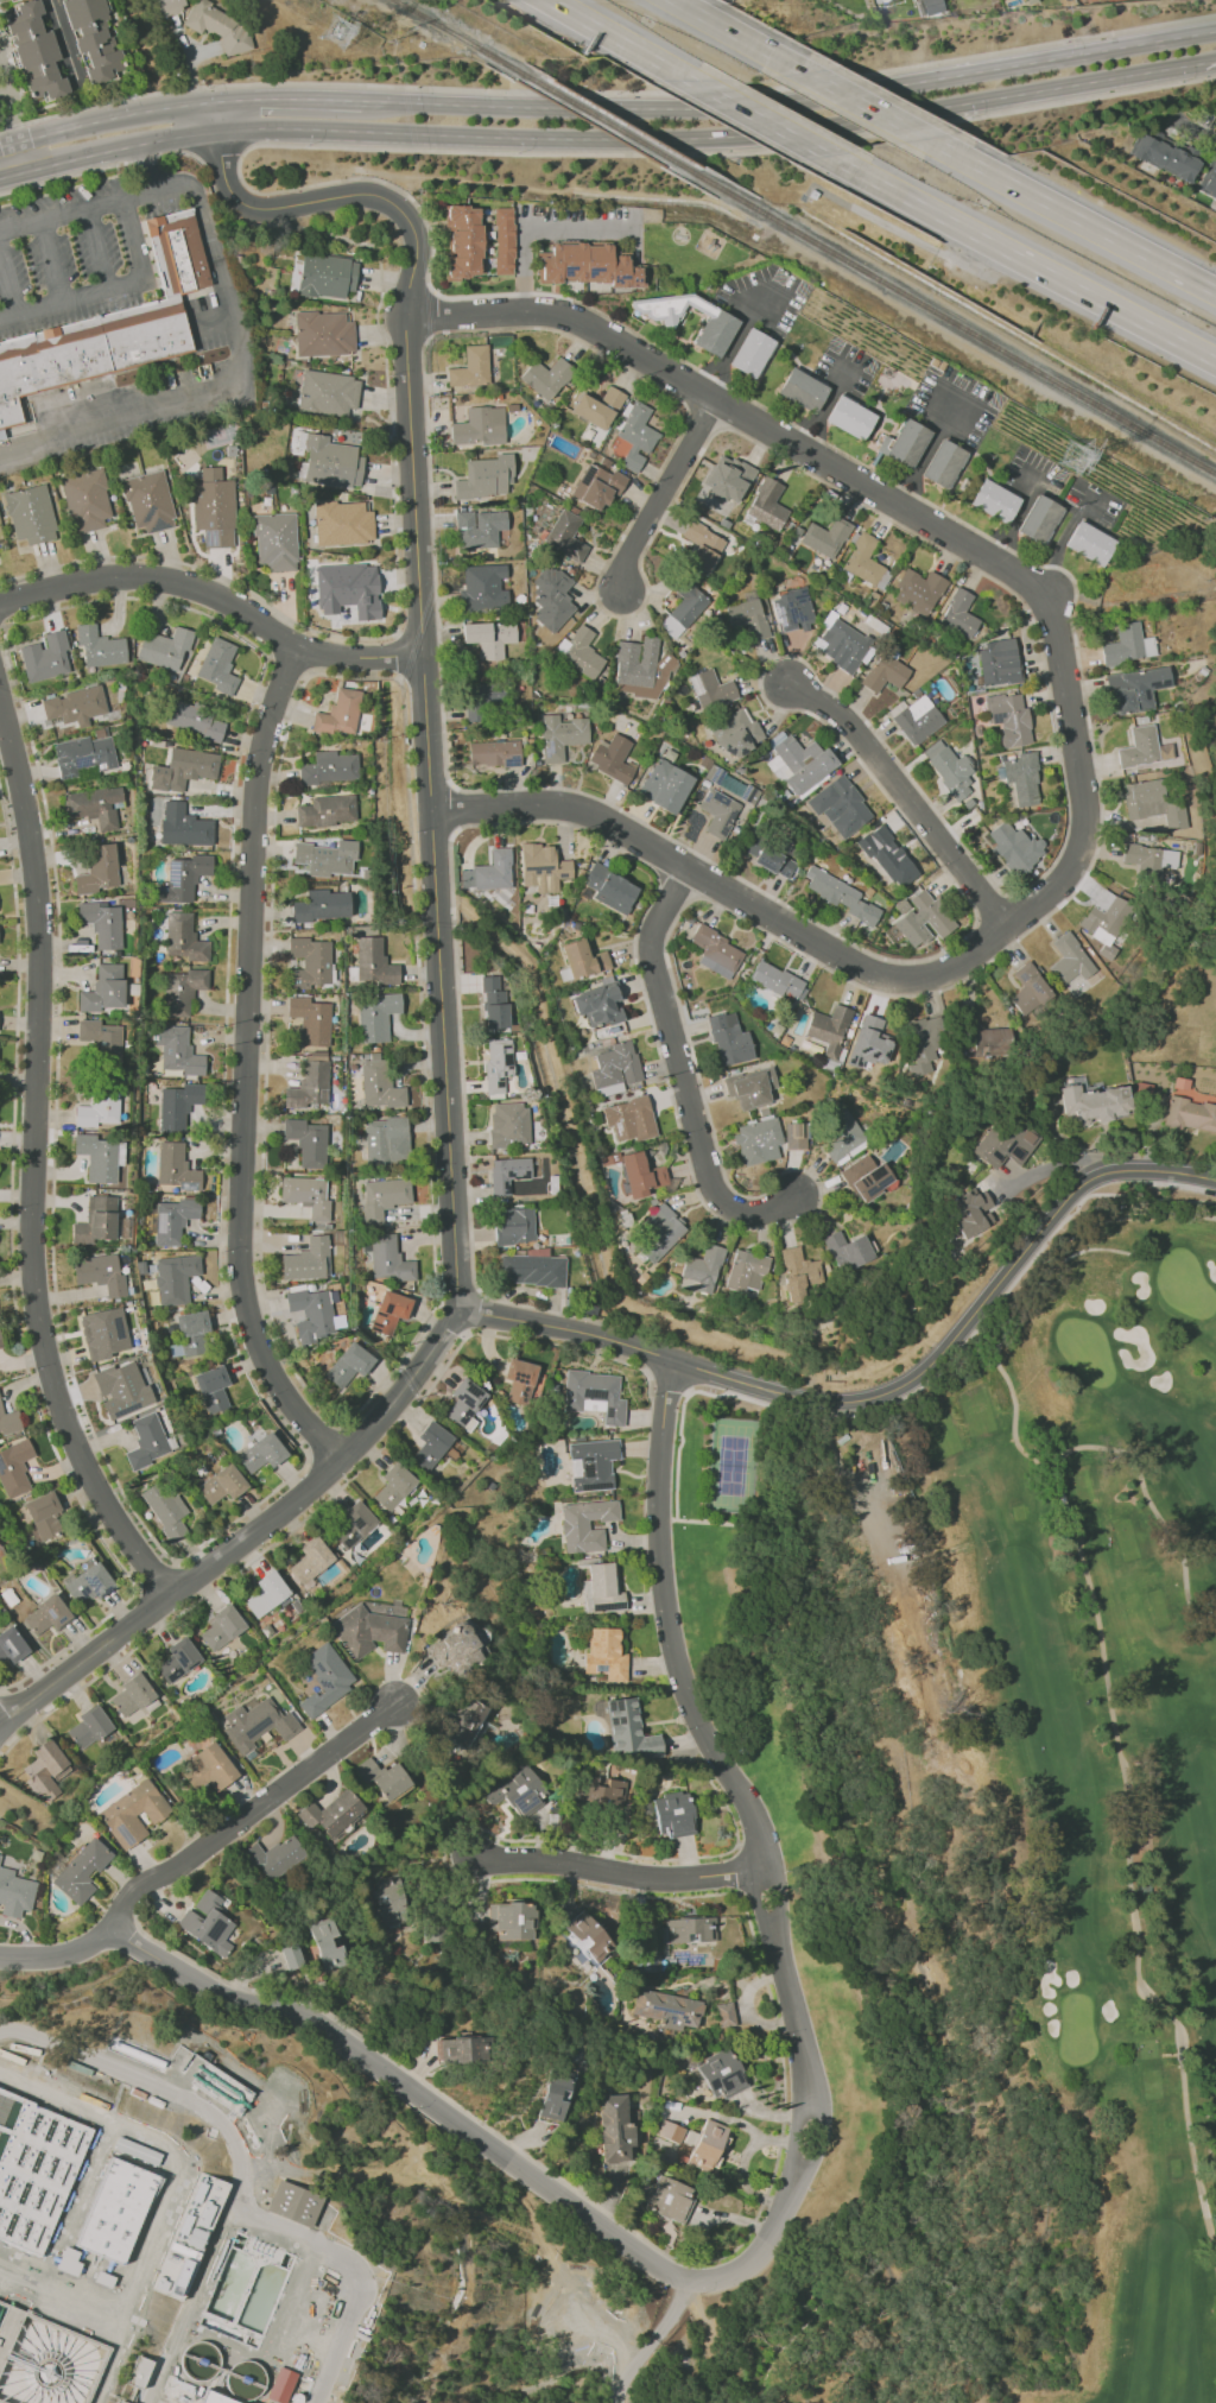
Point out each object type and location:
building: (9, 0)
building: (882, 0)
building: (169, 6)
building: (930, 6)
building: (220, 26)
power tower: (332, 30)
road: (446, 33)
road: (739, 36)
building: (94, 38)
railway: (461, 39)
road: (620, 39)
building: (34, 51)
road: (1076, 52)
road: (68, 63)
road: (1155, 71)
road: (608, 93)
road: (1019, 96)
road: (289, 101)
road: (792, 101)
road: (431, 105)
road: (866, 105)
road: (575, 108)
road: (152, 112)
road: (759, 118)
road: (11, 121)
road: (597, 122)
railway: (608, 122)
road: (321, 129)
road: (823, 129)
road: (1195, 129)
road: (69, 137)
road: (647, 140)
road: (36, 152)
road: (217, 152)
building: (1165, 156)
road: (11, 159)
building: (1208, 182)
road: (702, 183)
road: (530, 189)
road: (61, 216)
road: (1071, 216)
road: (531, 226)
road: (359, 241)
building: (463, 241)
building: (503, 241)
road: (97, 249)
parking lot: (70, 255)
road: (52, 261)
road: (1020, 261)
building: (587, 265)
building: (327, 276)
road: (7, 284)
road: (123, 284)
road: (429, 314)
railway: (951, 321)
building: (112, 325)
building: (718, 325)
building: (323, 334)
road: (729, 344)
road: (968, 348)
building: (750, 353)
road: (233, 366)
building: (470, 367)
building: (546, 377)
road: (721, 384)
building: (802, 390)
building: (328, 393)
building: (597, 406)
road: (821, 413)
road: (703, 417)
building: (849, 417)
building: (480, 426)
building: (635, 436)
road: (819, 437)
building: (902, 443)
power tower: (1069, 454)
building: (331, 462)
building: (942, 463)
building: (484, 478)
building: (727, 479)
building: (597, 485)
road: (665, 499)
building: (85, 500)
building: (993, 500)
building: (147, 501)
building: (767, 505)
road: (904, 507)
building: (214, 508)
building: (30, 514)
road: (1016, 517)
building: (1038, 519)
building: (343, 523)
building: (479, 529)
building: (565, 536)
building: (825, 537)
building: (275, 540)
building: (1089, 543)
building: (701, 546)
building: (864, 562)
road: (204, 570)
building: (483, 587)
building: (348, 589)
building: (918, 590)
road: (215, 596)
building: (551, 597)
building: (684, 609)
building: (792, 609)
building: (958, 614)
building: (748, 618)
road: (419, 619)
road: (2, 628)
building: (489, 637)
building: (842, 645)
building: (1128, 645)
building: (100, 646)
building: (166, 649)
building: (579, 652)
road: (395, 656)
building: (45, 657)
building: (997, 662)
road: (289, 664)
building: (217, 665)
building: (641, 668)
building: (883, 672)
building: (1135, 688)
building: (710, 689)
building: (484, 700)
building: (75, 706)
building: (338, 713)
building: (1009, 719)
building: (917, 720)
building: (192, 721)
building: (736, 733)
building: (560, 735)
building: (1139, 747)
building: (493, 753)
building: (82, 755)
building: (612, 758)
building: (800, 765)
building: (329, 767)
building: (183, 769)
building: (949, 769)
road: (275, 776)
road: (910, 777)
building: (1021, 778)
building: (665, 785)
road: (908, 796)
building: (1152, 803)
building: (94, 805)
building: (840, 805)
road: (451, 809)
building: (325, 810)
building: (718, 812)
road: (1100, 812)
building: (183, 826)
building: (1014, 847)
building: (886, 854)
building: (327, 858)
building: (769, 859)
building: (1149, 859)
building: (543, 867)
building: (99, 869)
building: (488, 872)
building: (183, 878)
road: (674, 887)
road: (724, 887)
building: (610, 889)
building: (841, 896)
building: (322, 905)
road: (989, 906)
building: (1103, 916)
building: (921, 918)
building: (102, 923)
building: (183, 937)
building: (716, 951)
building: (583, 959)
building: (1069, 960)
building: (373, 961)
building: (310, 962)
building: (778, 980)
building: (103, 988)
building: (1027, 988)
building: (182, 991)
building: (493, 1003)
building: (598, 1003)
building: (376, 1016)
building: (311, 1020)
building: (828, 1029)
building: (101, 1038)
building: (729, 1039)
building: (872, 1039)
building: (990, 1041)
building: (921, 1042)
building: (178, 1050)
building: (498, 1063)
road: (245, 1065)
building: (615, 1068)
road: (683, 1074)
building: (310, 1082)
building: (379, 1084)
building: (750, 1088)
building: (1094, 1104)
building: (178, 1105)
building: (97, 1111)
building: (1190, 1114)
building: (629, 1119)
building: (508, 1124)
building: (794, 1136)
building: (386, 1139)
building: (843, 1139)
building: (758, 1140)
building: (306, 1142)
building: (1003, 1144)
building: (99, 1157)
road: (34, 1166)
building: (176, 1166)
building: (507, 1174)
building: (639, 1174)
building: (866, 1177)
building: (306, 1195)
building: (384, 1197)
building: (969, 1212)
building: (173, 1220)
building: (96, 1221)
building: (514, 1225)
building: (659, 1233)
building: (847, 1250)
building: (387, 1258)
building: (306, 1260)
building: (532, 1270)
building: (701, 1270)
building: (745, 1270)
building: (798, 1272)
building: (100, 1273)
building: (176, 1277)
road: (13, 1289)
building: (389, 1311)
building: (311, 1314)
road: (452, 1321)
building: (103, 1333)
building: (0, 1342)
road: (574, 1348)
building: (348, 1365)
building: (519, 1380)
road: (925, 1380)
road: (667, 1383)
building: (121, 1389)
building: (213, 1389)
road: (879, 1396)
building: (464, 1403)
building: (9, 1421)
road: (324, 1437)
building: (147, 1441)
building: (430, 1446)
building: (261, 1453)
building: (594, 1463)
park: (731, 1466)
building: (14, 1468)
building: (222, 1484)
building: (394, 1486)
building: (165, 1509)
building: (44, 1514)
road: (698, 1520)
building: (351, 1525)
building: (585, 1525)
road: (248, 1532)
road: (199, 1549)
road: (247, 1561)
building: (311, 1561)
road: (153, 1577)
building: (88, 1585)
building: (602, 1588)
building: (267, 1594)
building: (46, 1615)
building: (221, 1627)
building: (370, 1629)
building: (12, 1645)
building: (454, 1648)
building: (604, 1653)
building: (178, 1659)
building: (325, 1678)
building: (134, 1696)
building: (465, 1722)
building: (258, 1725)
road: (8, 1726)
building: (89, 1727)
building: (629, 1732)
park: (1090, 1737)
building: (45, 1770)
building: (209, 1770)
building: (385, 1777)
building: (518, 1791)
building: (603, 1791)
building: (332, 1813)
building: (133, 1814)
building: (673, 1814)
road: (248, 1816)
road: (804, 1832)
building: (0, 1854)
building: (274, 1858)
road: (853, 1859)
road: (737, 1868)
road: (619, 1870)
building: (81, 1871)
building: (14, 1893)
building: (389, 1901)
building: (512, 1920)
building: (208, 1922)
building: (689, 1929)
road: (132, 1933)
building: (587, 1936)
building: (328, 1943)
park: (880, 1947)
building: (292, 1956)
building: (667, 2009)
building: (726, 2015)
building: (99, 2037)
building: (461, 2050)
building: (139, 2056)
building: (721, 2074)
building: (215, 2083)
road: (783, 2086)
building: (553, 2095)
building: (131, 2106)
building: (615, 2129)
building: (671, 2131)
road: (850, 2137)
building: (703, 2146)
road: (235, 2148)
road: (952, 2148)
road: (898, 2156)
building: (34, 2168)
road: (924, 2170)
road: (185, 2187)
building: (670, 2199)
building: (293, 2203)
building: (115, 2211)
road: (771, 2228)
building: (190, 2236)
road: (70, 2266)
road: (359, 2271)
road: (651, 2342)
road: (704, 2342)
building: (140, 2371)
building: (281, 2385)
building: (215, 2398)
building: (123, 2399)

